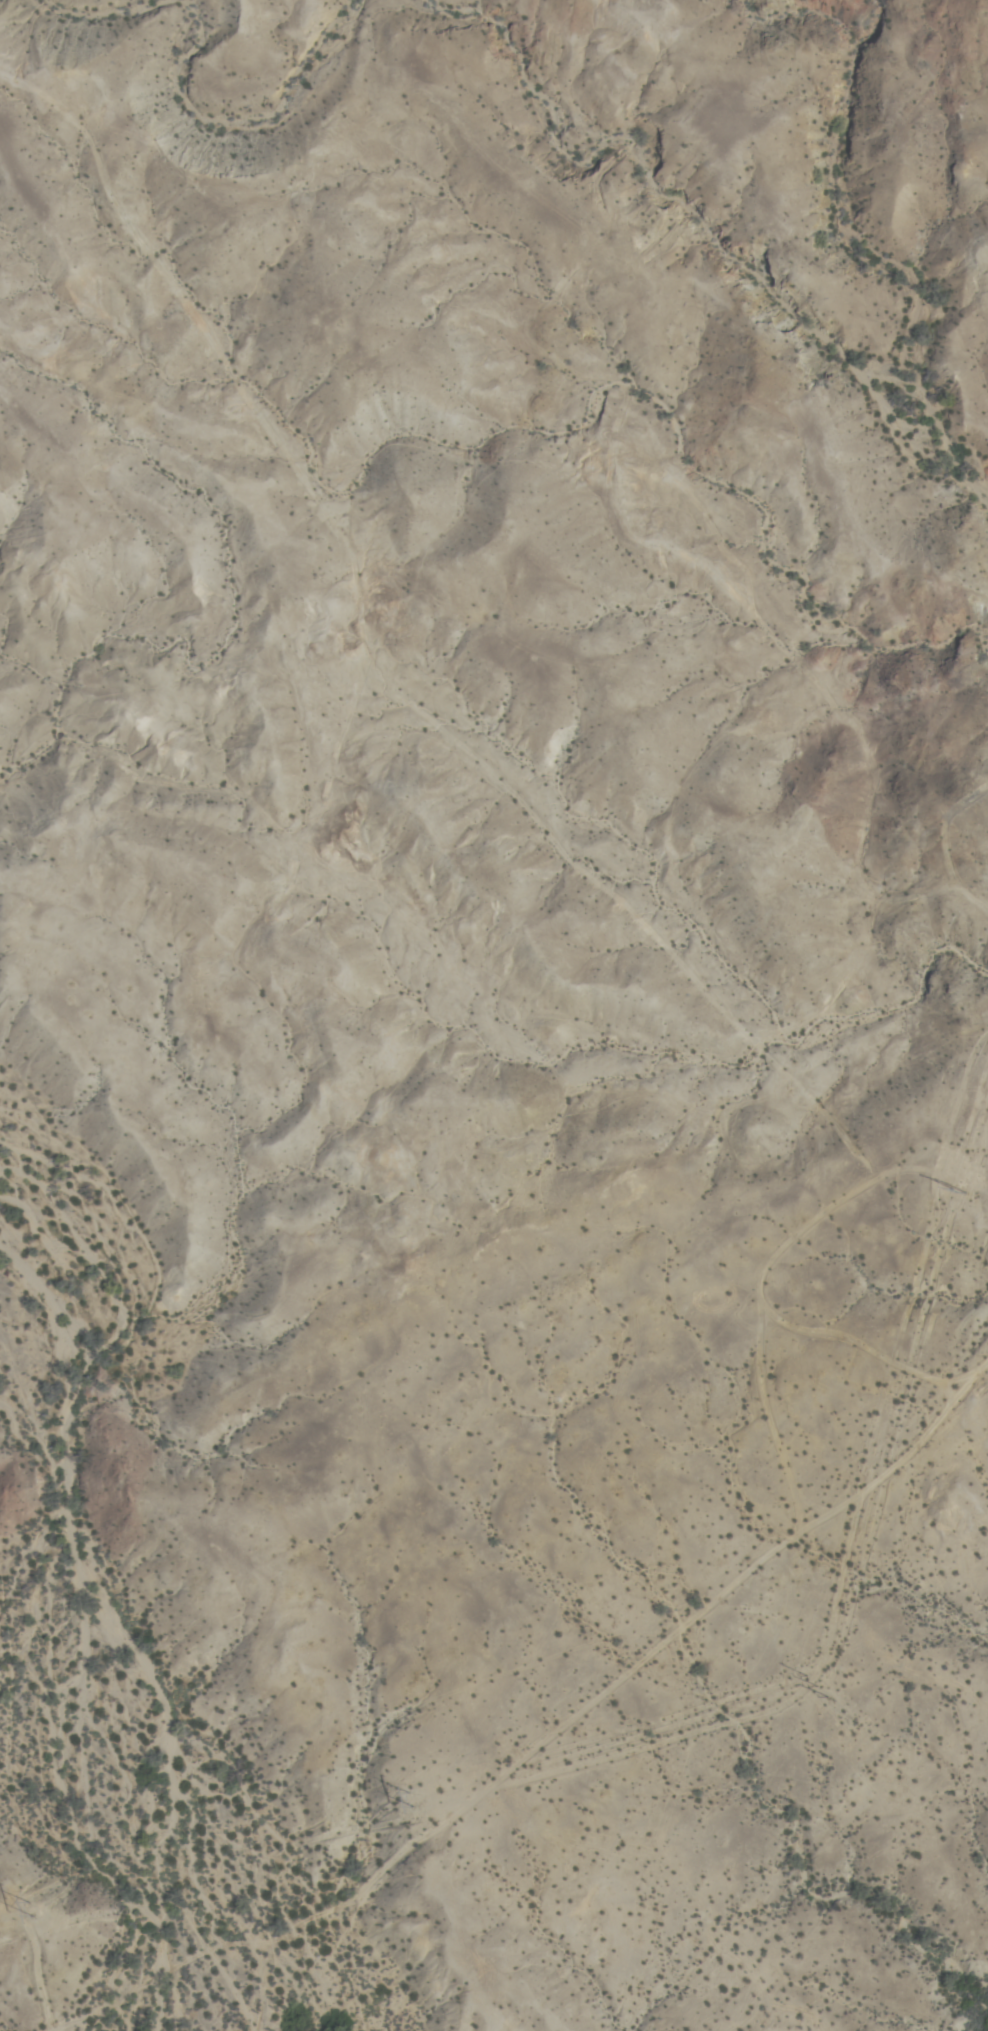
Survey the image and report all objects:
power tower: (959, 1190)
power tower: (821, 1682)
power tower: (411, 1801)
power tower: (29, 1910)

